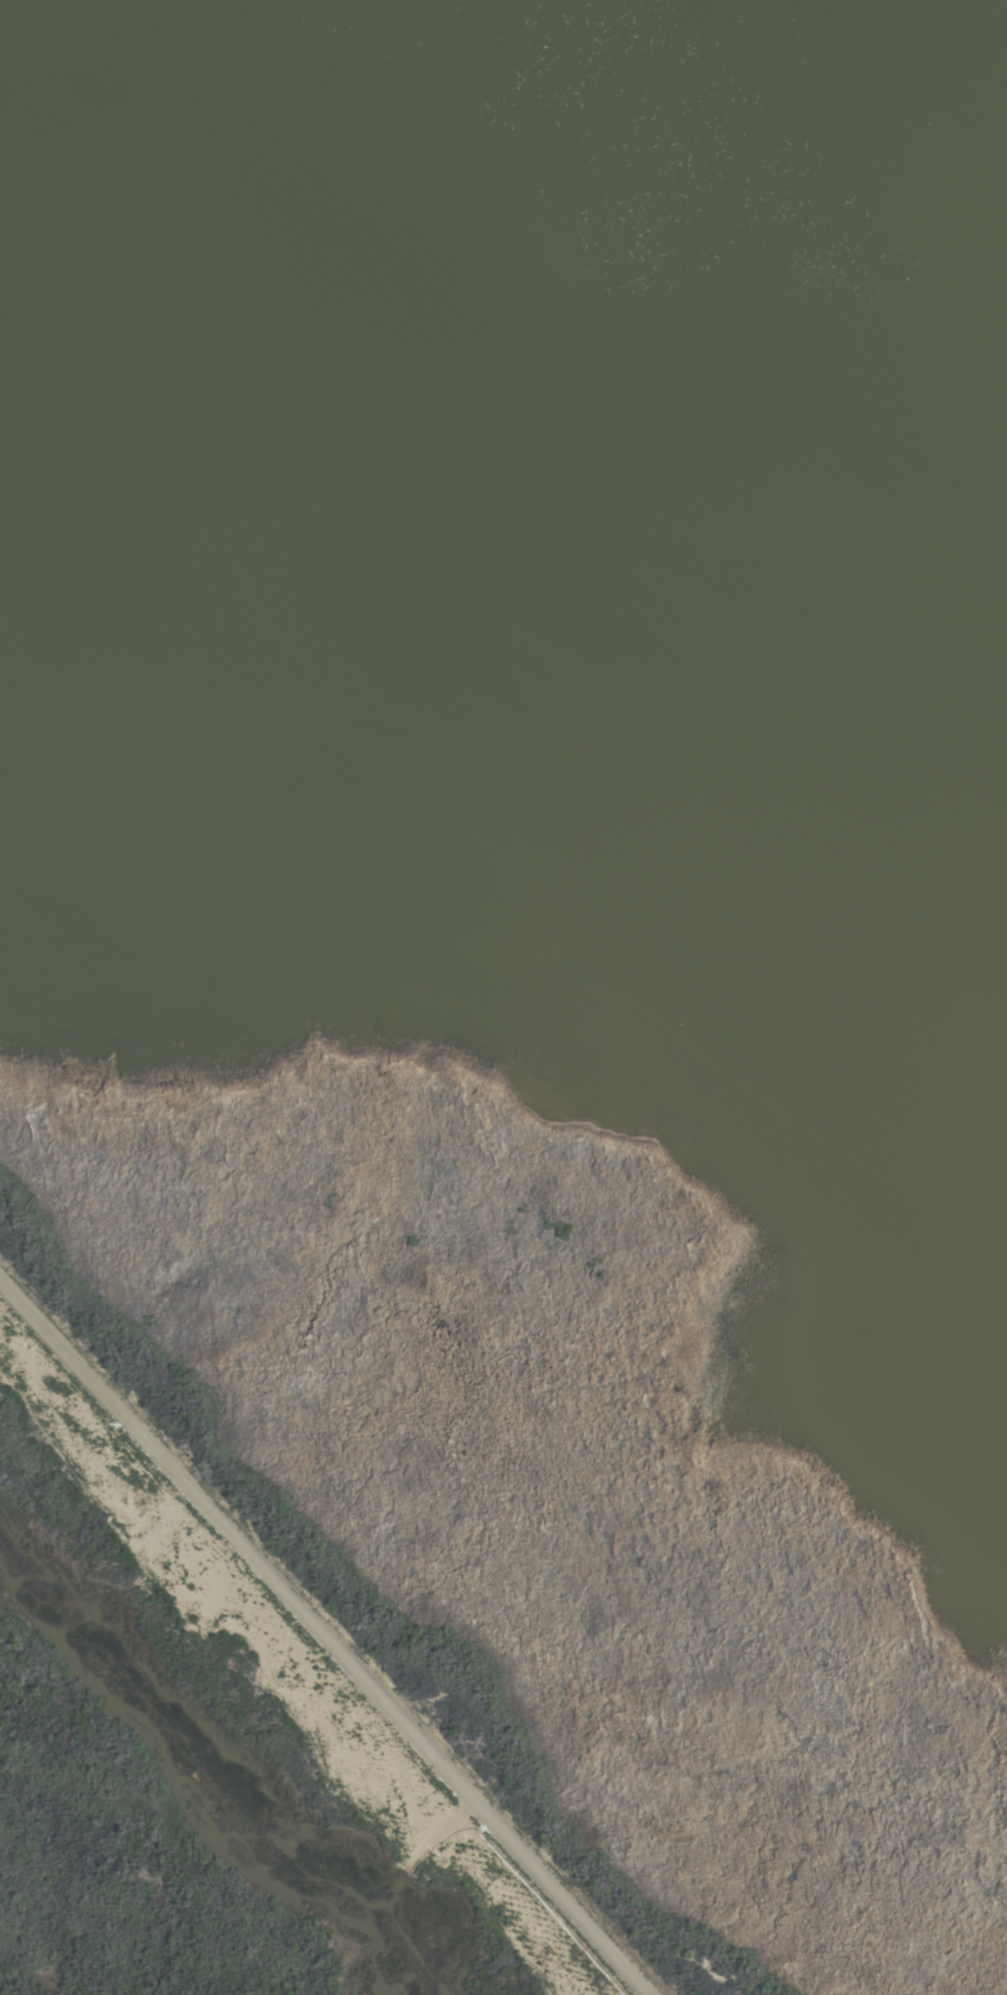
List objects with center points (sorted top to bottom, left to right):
road: (323, 1637)

